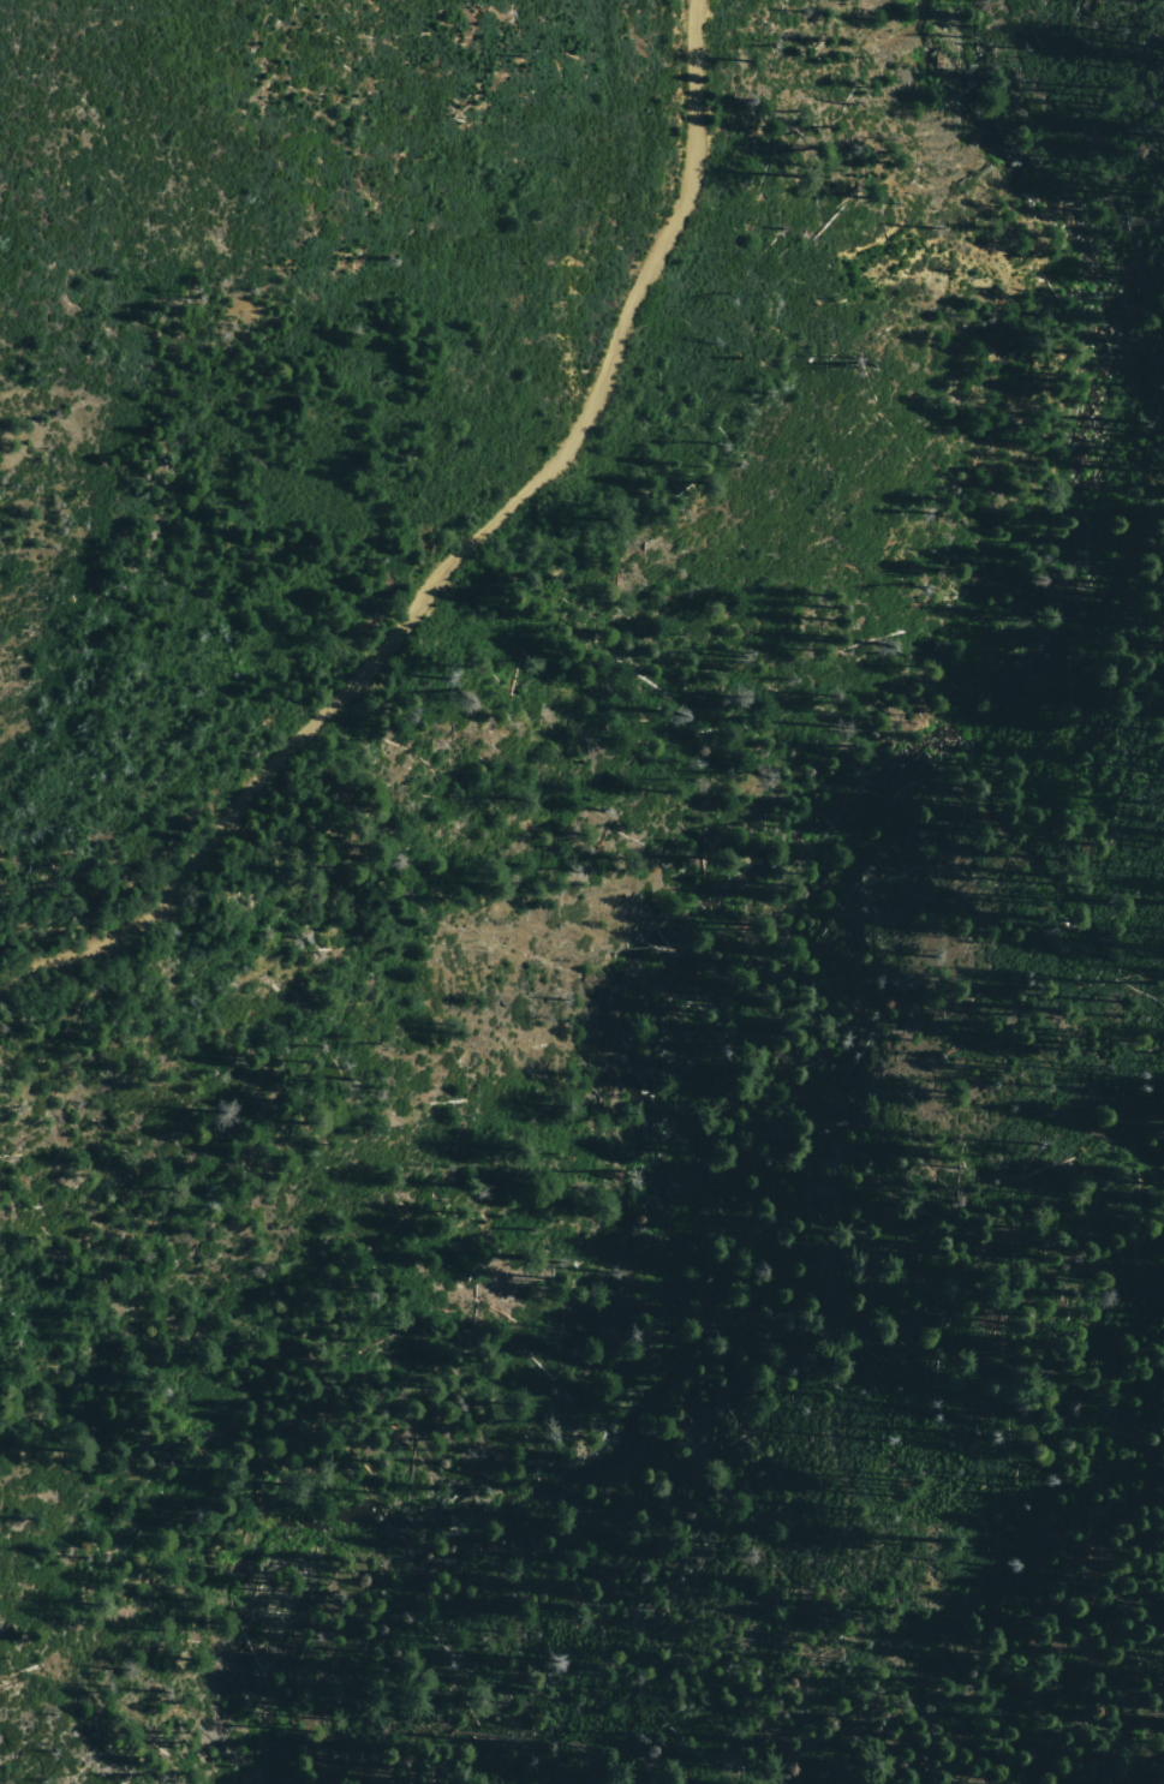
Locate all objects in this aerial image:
road: (455, 561)

